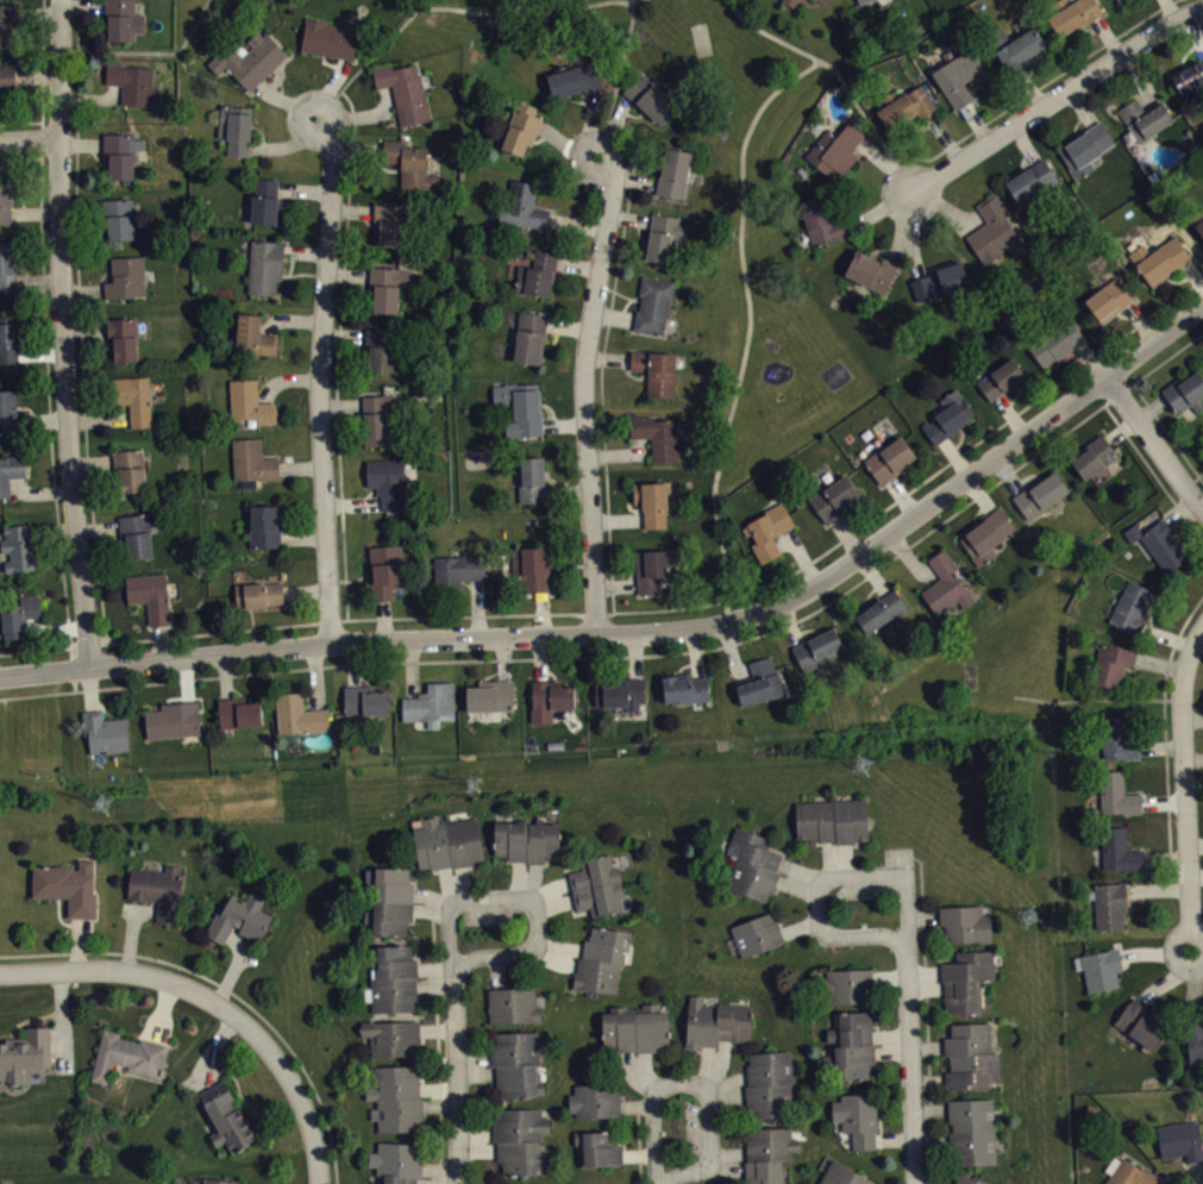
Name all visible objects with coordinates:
building: (1119, 0)
building: (822, 1)
building: (861, 1)
road: (420, 2)
building: (790, 2)
road: (519, 10)
road: (1170, 10)
building: (1073, 15)
building: (123, 19)
building: (7, 25)
road: (1195, 29)
road: (771, 33)
road: (1107, 35)
building: (330, 39)
building: (1015, 46)
road: (149, 50)
building: (249, 58)
road: (43, 59)
road: (366, 59)
building: (958, 75)
building: (7, 76)
road: (619, 76)
road: (1140, 76)
building: (1190, 77)
building: (575, 79)
building: (131, 82)
road: (1028, 88)
building: (403, 90)
road: (1032, 90)
road: (1054, 96)
building: (653, 98)
building: (904, 105)
road: (1082, 105)
building: (1142, 119)
road: (21, 120)
road: (976, 121)
road: (614, 126)
building: (236, 127)
building: (521, 129)
road: (944, 136)
road: (30, 139)
road: (1025, 143)
building: (1085, 149)
building: (835, 150)
building: (120, 154)
road: (20, 156)
building: (409, 163)
road: (886, 163)
building: (675, 171)
road: (624, 175)
building: (1032, 180)
building: (6, 200)
building: (268, 202)
building: (524, 205)
road: (908, 206)
road: (945, 207)
road: (877, 209)
road: (628, 217)
building: (119, 218)
building: (821, 220)
building: (1197, 220)
building: (390, 224)
building: (991, 228)
building: (663, 237)
road: (897, 240)
road: (741, 246)
road: (911, 249)
building: (1159, 259)
building: (7, 265)
building: (264, 265)
building: (870, 270)
road: (1193, 272)
building: (537, 274)
building: (126, 276)
building: (940, 281)
building: (387, 287)
building: (1108, 299)
building: (653, 303)
road: (614, 315)
park: (767, 317)
road: (80, 321)
road: (1140, 321)
road: (64, 333)
building: (253, 336)
building: (530, 337)
building: (123, 338)
building: (8, 339)
building: (1054, 340)
road: (1189, 340)
building: (381, 347)
road: (338, 351)
road: (607, 357)
road: (1090, 358)
road: (1152, 368)
building: (656, 370)
road: (319, 378)
building: (1001, 378)
road: (48, 389)
road: (584, 391)
building: (1185, 391)
road: (1119, 393)
building: (133, 397)
building: (249, 401)
road: (1149, 406)
building: (519, 407)
building: (11, 412)
road: (1010, 414)
road: (602, 415)
building: (947, 415)
building: (380, 419)
road: (1120, 427)
road: (1167, 431)
building: (656, 436)
road: (1153, 443)
road: (970, 446)
road: (620, 452)
building: (1092, 456)
road: (955, 457)
building: (889, 459)
building: (252, 462)
road: (1151, 469)
building: (10, 470)
building: (129, 470)
road: (1008, 471)
road: (1193, 477)
building: (531, 480)
building: (387, 482)
road: (979, 493)
building: (1039, 494)
road: (901, 496)
building: (833, 497)
building: (652, 502)
road: (1182, 512)
road: (616, 519)
building: (265, 526)
building: (767, 531)
building: (136, 534)
road: (846, 534)
building: (988, 535)
building: (1158, 544)
building: (18, 549)
road: (801, 553)
road: (909, 557)
building: (656, 566)
building: (531, 568)
building: (384, 570)
building: (456, 571)
road: (872, 572)
road: (615, 583)
building: (945, 584)
building: (259, 591)
building: (150, 595)
building: (1130, 607)
building: (882, 610)
building: (20, 615)
road: (359, 618)
road: (789, 622)
road: (650, 631)
road: (1166, 634)
road: (88, 638)
road: (35, 649)
building: (816, 649)
road: (695, 652)
road: (732, 652)
road: (1171, 652)
road: (628, 654)
road: (634, 654)
park: (992, 663)
building: (1111, 663)
road: (1159, 663)
road: (73, 668)
building: (760, 682)
building: (685, 688)
building: (620, 691)
road: (43, 693)
building: (490, 695)
building: (550, 699)
building: (364, 700)
building: (431, 704)
building: (238, 713)
building: (299, 714)
road: (1164, 714)
road: (1192, 718)
building: (173, 720)
building: (105, 732)
building: (1117, 738)
road: (1160, 746)
road: (1193, 758)
power tower: (863, 768)
power tower: (472, 784)
road: (1184, 785)
building: (1116, 794)
road: (1163, 801)
power tower: (101, 804)
building: (832, 820)
building: (526, 839)
building: (447, 841)
road: (1195, 844)
building: (1119, 850)
road: (1165, 858)
building: (752, 864)
road: (801, 871)
road: (1195, 875)
road: (825, 878)
building: (597, 884)
road: (796, 885)
building: (67, 887)
building: (158, 889)
road: (1157, 889)
building: (391, 900)
road: (524, 901)
building: (1109, 904)
road: (923, 915)
building: (240, 916)
power tower: (1034, 917)
building: (965, 923)
road: (798, 926)
building: (757, 934)
road: (1197, 950)
road: (1155, 952)
road: (1197, 956)
building: (601, 959)
building: (1101, 969)
road: (925, 972)
road: (889, 976)
road: (1167, 977)
building: (393, 978)
building: (966, 981)
building: (846, 985)
road: (1193, 986)
road: (226, 988)
road: (926, 988)
road: (212, 1004)
building: (513, 1004)
road: (926, 1011)
building: (716, 1021)
building: (1140, 1022)
building: (635, 1027)
road: (891, 1034)
building: (391, 1036)
building: (1195, 1040)
building: (851, 1045)
road: (437, 1052)
road: (892, 1052)
building: (24, 1053)
building: (127, 1055)
building: (971, 1055)
building: (518, 1063)
road: (706, 1065)
road: (720, 1065)
road: (910, 1065)
road: (647, 1070)
road: (634, 1075)
road: (457, 1077)
road: (727, 1080)
building: (770, 1083)
road: (697, 1084)
road: (727, 1094)
building: (397, 1098)
building: (594, 1100)
road: (635, 1104)
building: (226, 1117)
building: (858, 1117)
building: (972, 1132)
building: (519, 1138)
road: (895, 1139)
building: (1180, 1140)
road: (639, 1144)
building: (600, 1147)
road: (729, 1152)
road: (638, 1153)
building: (767, 1153)
building: (397, 1161)
road: (723, 1169)
building: (1128, 1172)
road: (1196, 1172)
building: (844, 1176)
building: (218, 1180)
building: (969, 1180)
building: (952, 1183)

